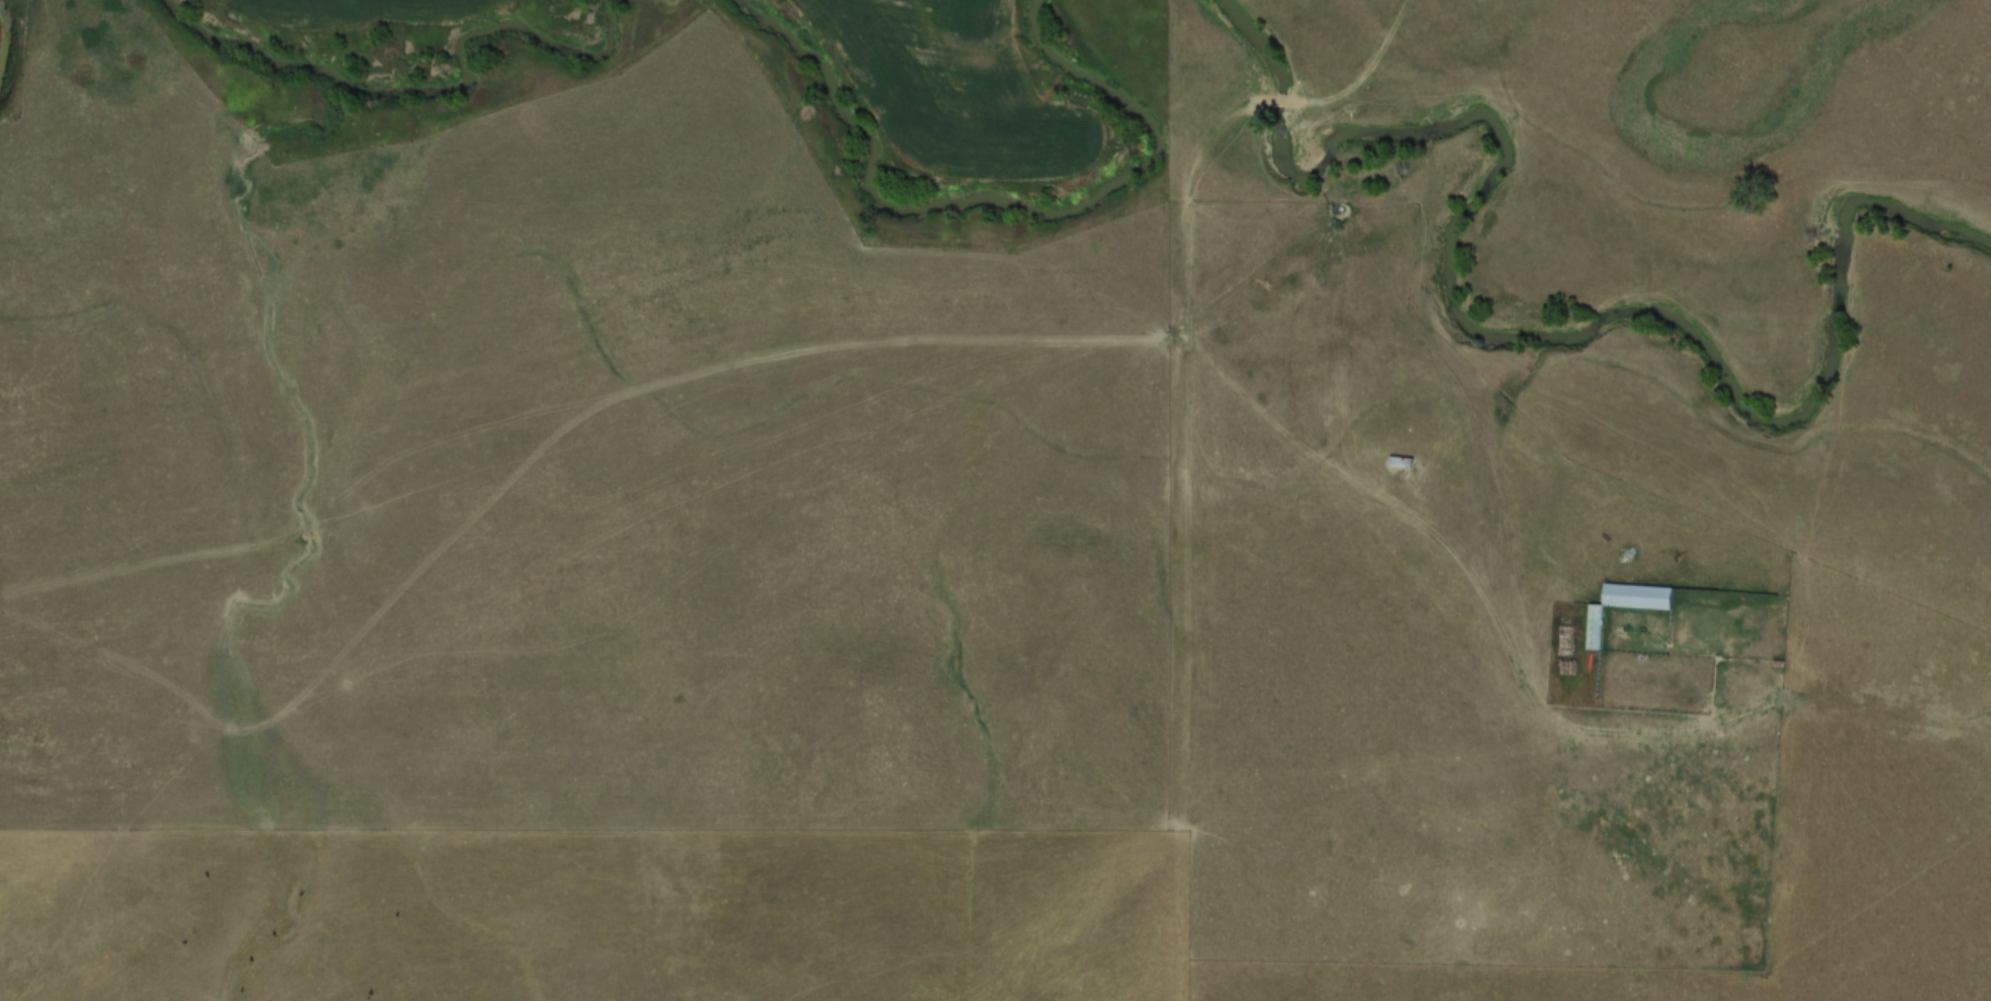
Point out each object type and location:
building: (1401, 461)
building: (1630, 589)

